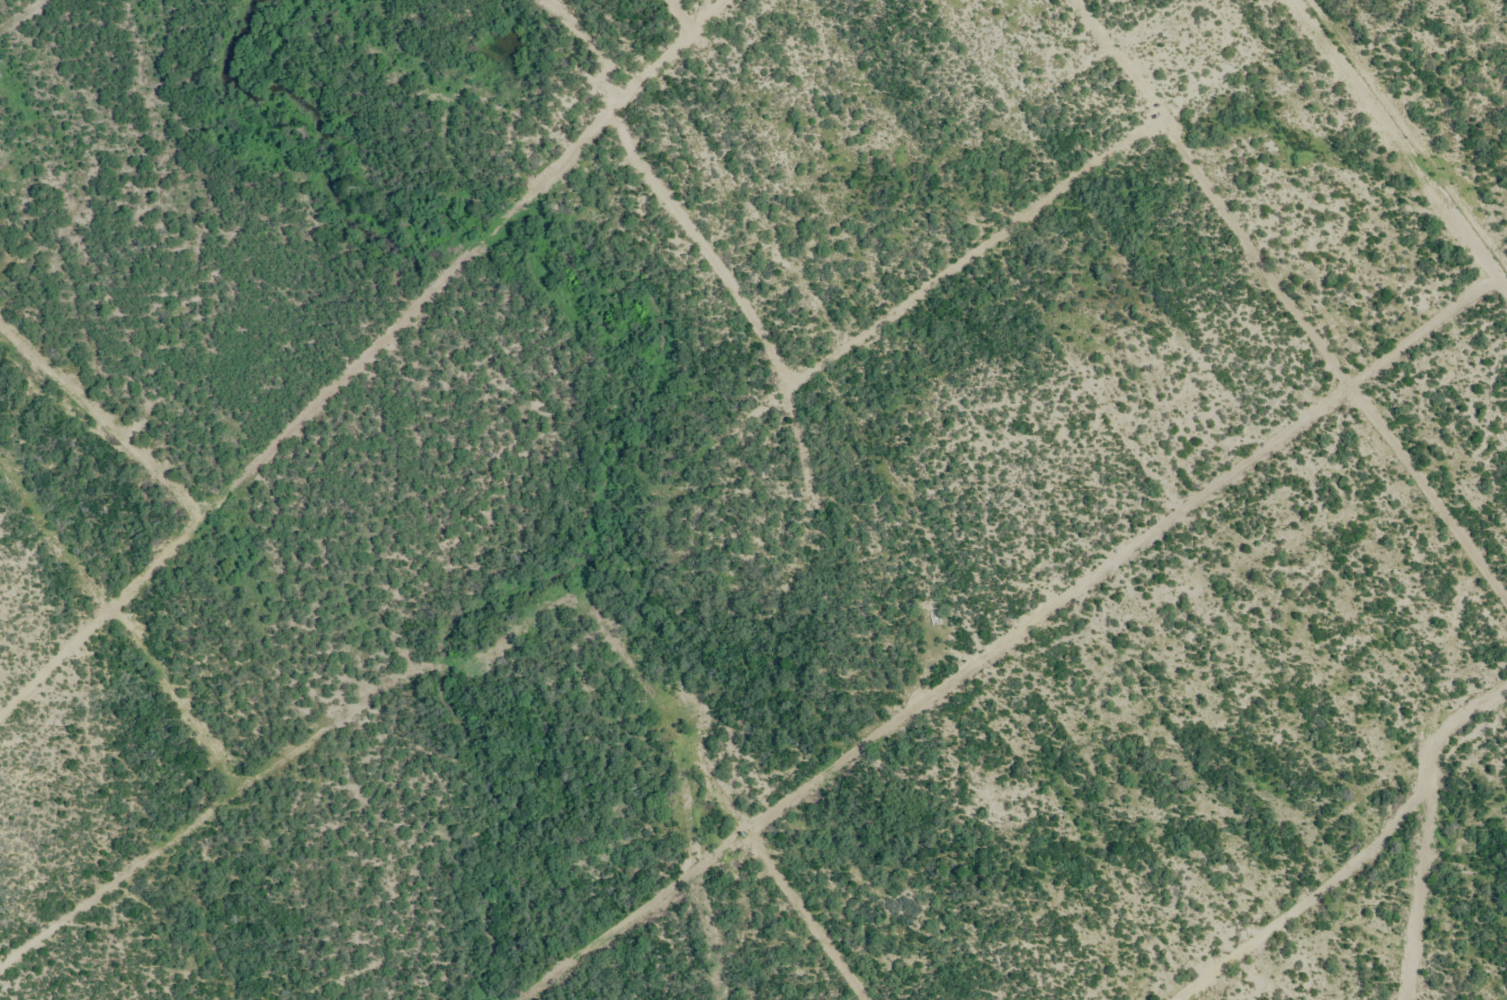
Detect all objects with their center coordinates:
road: (1364, 866)

